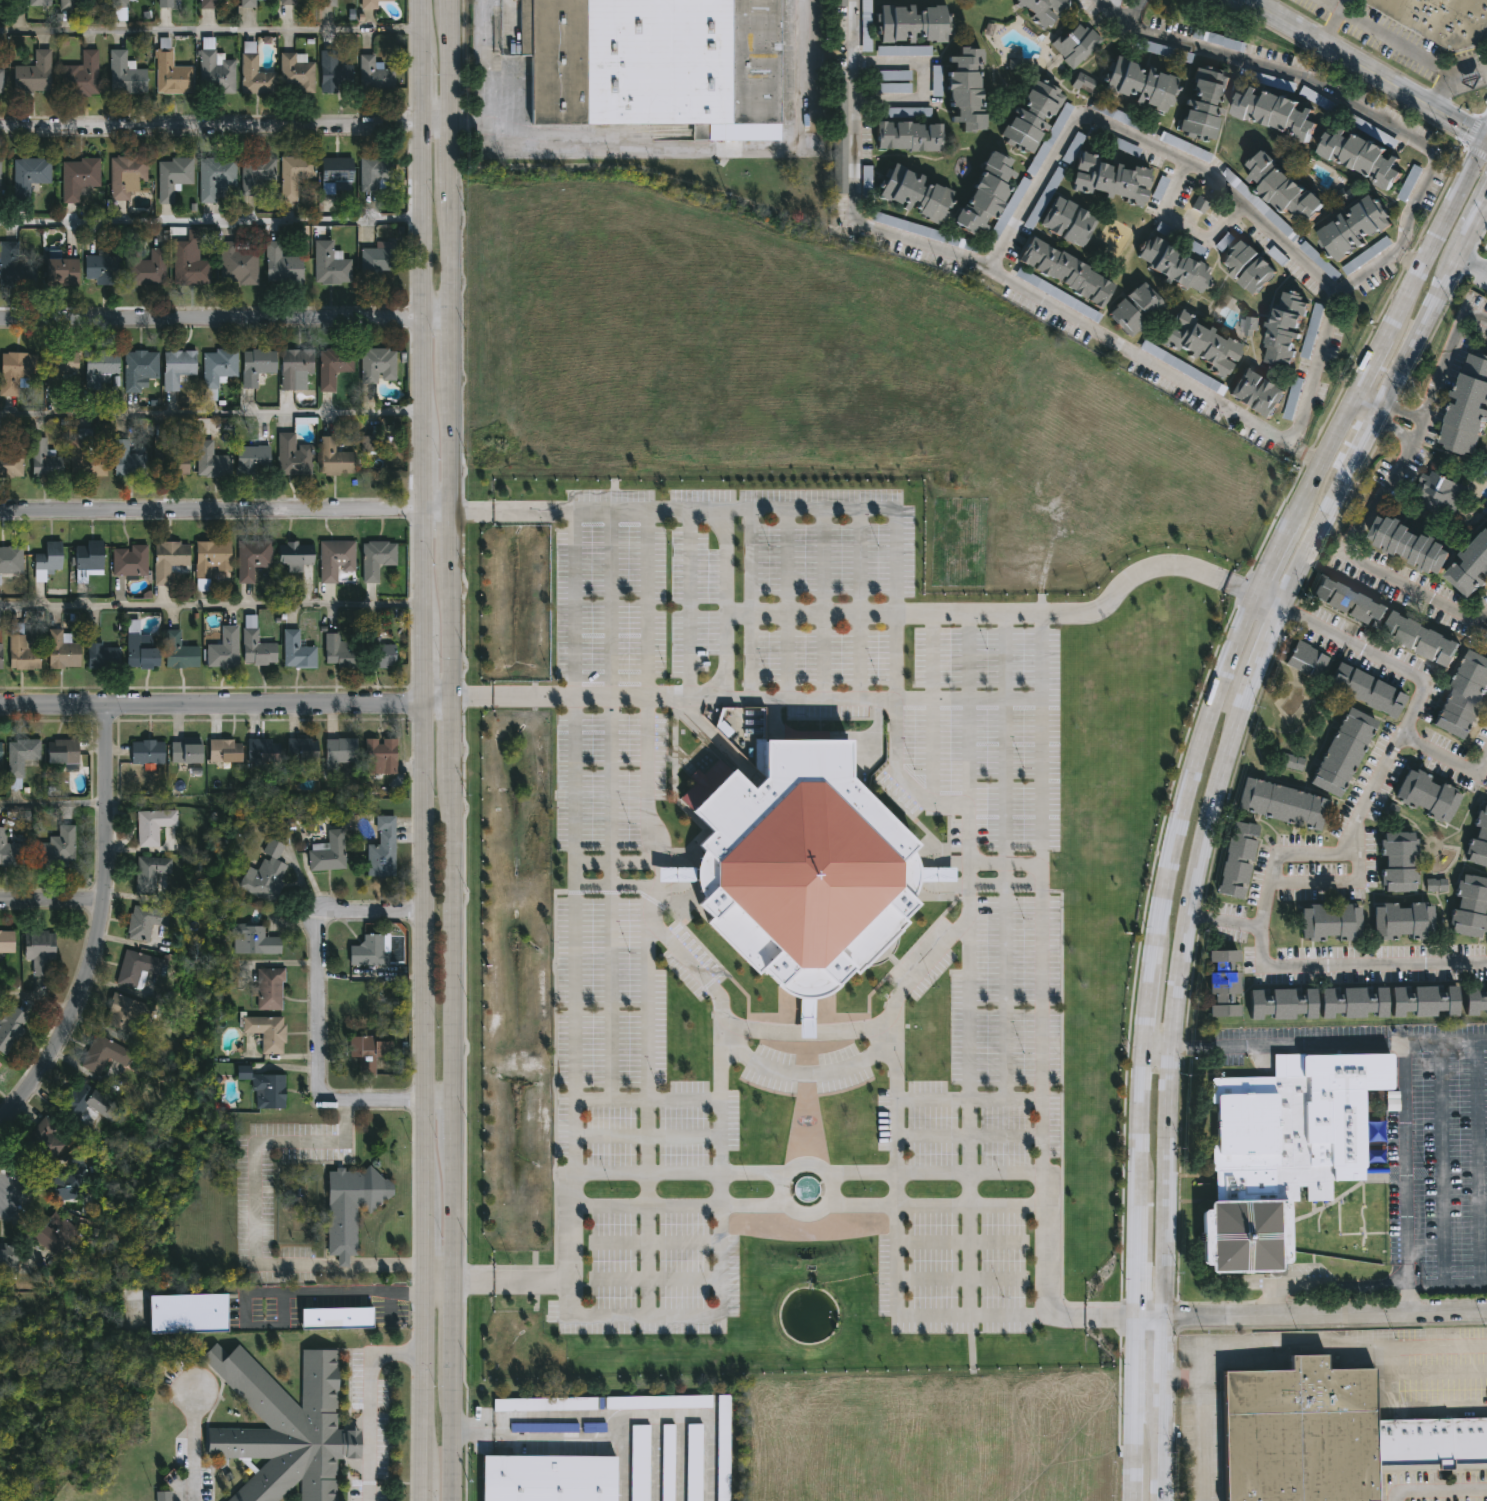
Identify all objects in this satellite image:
building: (866, 1)
building: (287, 2)
building: (38, 3)
building: (119, 3)
building: (164, 3)
building: (247, 3)
building: (326, 3)
building: (840, 3)
building: (67, 4)
building: (206, 4)
building: (369, 4)
building: (1041, 10)
road: (1125, 12)
building: (1441, 19)
road: (1330, 21)
building: (912, 22)
road: (425, 23)
road: (212, 30)
building: (1218, 40)
building: (1075, 45)
building: (866, 47)
road: (1405, 48)
building: (904, 51)
building: (1168, 53)
road: (453, 60)
building: (655, 61)
road: (1366, 70)
building: (170, 71)
building: (333, 71)
building: (253, 73)
building: (295, 73)
building: (32, 74)
building: (124, 74)
building: (215, 75)
building: (373, 75)
building: (80, 76)
building: (894, 76)
building: (0, 80)
road: (923, 80)
building: (1084, 83)
road: (425, 84)
building: (1144, 84)
road: (1319, 87)
road: (1469, 87)
building: (894, 88)
building: (964, 88)
building: (1203, 102)
building: (908, 112)
building: (1275, 112)
building: (1030, 114)
building: (1116, 115)
road: (227, 126)
building: (907, 136)
road: (1468, 137)
traffic signals: (1486, 140)
road: (1145, 141)
building: (840, 145)
building: (1125, 147)
road: (651, 148)
building: (1073, 148)
road: (454, 153)
building: (1361, 156)
building: (0, 169)
building: (373, 172)
building: (255, 174)
building: (334, 174)
building: (293, 175)
building: (28, 176)
building: (125, 176)
building: (214, 176)
building: (78, 178)
building: (172, 178)
building: (1109, 179)
building: (1292, 186)
building: (1406, 190)
building: (914, 194)
building: (983, 194)
building: (1044, 198)
building: (1200, 205)
building: (1261, 205)
road: (1480, 220)
road: (212, 221)
building: (1066, 221)
road: (1181, 225)
building: (1355, 228)
building: (935, 235)
road: (1437, 238)
road: (454, 252)
road: (1406, 260)
building: (376, 261)
building: (237, 263)
building: (329, 264)
building: (14, 265)
building: (1173, 265)
building: (188, 266)
building: (281, 266)
building: (144, 267)
building: (1249, 267)
building: (59, 268)
building: (100, 268)
road: (1473, 269)
building: (1065, 272)
road: (425, 280)
building: (1058, 295)
building: (1135, 310)
road: (226, 317)
road: (1427, 322)
road: (1074, 323)
building: (1249, 326)
building: (1286, 329)
building: (1313, 330)
road: (454, 344)
building: (1199, 344)
road: (1445, 356)
building: (1173, 362)
building: (377, 365)
building: (255, 366)
building: (58, 367)
building: (332, 367)
road: (1371, 367)
building: (98, 368)
building: (138, 369)
building: (176, 369)
building: (295, 369)
building: (217, 371)
building: (14, 372)
building: (1296, 387)
building: (1257, 393)
road: (1366, 403)
building: (1468, 408)
road: (1400, 410)
road: (212, 412)
road: (1392, 429)
road: (1365, 437)
road: (454, 442)
building: (371, 445)
building: (166, 454)
building: (84, 456)
building: (291, 456)
building: (333, 458)
building: (126, 460)
building: (210, 460)
building: (250, 460)
road: (1401, 460)
building: (44, 461)
building: (9, 464)
road: (425, 474)
building: (1441, 494)
road: (227, 509)
road: (725, 511)
building: (1236, 524)
road: (1317, 537)
road: (454, 539)
building: (1412, 546)
building: (293, 556)
building: (251, 557)
building: (334, 559)
building: (376, 559)
building: (10, 560)
building: (87, 560)
building: (45, 561)
building: (169, 561)
building: (209, 561)
building: (128, 562)
road: (425, 570)
building: (1472, 570)
road: (1386, 577)
road: (1244, 590)
building: (1351, 602)
road: (1271, 603)
road: (212, 604)
road: (572, 605)
road: (989, 615)
road: (454, 631)
building: (1422, 640)
building: (136, 646)
building: (255, 646)
road: (1266, 647)
building: (223, 649)
building: (0, 651)
building: (60, 651)
building: (178, 652)
building: (296, 652)
building: (374, 652)
building: (338, 653)
building: (21, 654)
building: (101, 656)
road: (1382, 657)
building: (1309, 661)
road: (426, 666)
building: (1366, 688)
building: (1464, 695)
road: (675, 698)
road: (879, 698)
road: (227, 706)
road: (454, 732)
building: (261, 749)
building: (340, 749)
building: (227, 750)
building: (1342, 750)
building: (0, 751)
building: (62, 752)
building: (184, 752)
building: (299, 752)
building: (146, 753)
building: (380, 755)
building: (21, 758)
building: (1292, 762)
road: (1442, 763)
road: (1004, 789)
road: (609, 792)
building: (1431, 795)
road: (54, 801)
building: (1286, 804)
road: (425, 809)
building: (153, 825)
building: (1481, 844)
building: (57, 847)
building: (10, 849)
building: (381, 849)
building: (328, 852)
building: (1241, 861)
road: (1007, 863)
building: (1403, 863)
building: (803, 867)
building: (264, 871)
building: (146, 873)
road: (1007, 881)
road: (1340, 881)
building: (1435, 885)
road: (53, 904)
parking lot: (610, 906)
building: (1473, 909)
road: (1046, 912)
building: (143, 920)
building: (1408, 922)
road: (1225, 923)
building: (1334, 923)
road: (102, 926)
road: (1260, 928)
road: (1156, 930)
road: (454, 935)
building: (252, 939)
building: (6, 941)
building: (37, 950)
road: (571, 954)
building: (369, 955)
building: (132, 969)
building: (1227, 982)
building: (268, 988)
road: (1002, 991)
road: (609, 993)
road: (1175, 996)
road: (37, 999)
building: (1431, 999)
building: (1478, 999)
building: (1361, 1001)
building: (1288, 1002)
building: (362, 1005)
building: (125, 1012)
road: (318, 1022)
building: (10, 1028)
building: (266, 1032)
road: (896, 1032)
road: (1329, 1044)
road: (1157, 1048)
building: (367, 1051)
building: (103, 1053)
road: (425, 1060)
building: (0, 1065)
road: (808, 1073)
building: (264, 1087)
road: (609, 1100)
road: (647, 1101)
road: (972, 1101)
building: (86, 1102)
road: (967, 1116)
road: (453, 1125)
road: (645, 1137)
road: (720, 1137)
building: (42, 1139)
building: (1288, 1148)
road: (1480, 1161)
road: (1442, 1162)
building: (66, 1182)
road: (3, 1191)
road: (1408, 1201)
building: (350, 1207)
road: (769, 1209)
road: (452, 1214)
road: (254, 1226)
building: (53, 1232)
road: (423, 1238)
building: (8, 1260)
road: (437, 1276)
road: (1326, 1283)
road: (352, 1291)
road: (1409, 1296)
road: (392, 1306)
building: (187, 1313)
road: (1325, 1313)
road: (1093, 1317)
building: (334, 1318)
road: (1148, 1318)
road: (450, 1320)
road: (243, 1324)
road: (1329, 1345)
road: (1160, 1355)
road: (422, 1369)
building: (658, 1402)
building: (545, 1404)
road: (373, 1408)
road: (1202, 1416)
road: (697, 1418)
building: (286, 1428)
road: (448, 1431)
building: (1300, 1432)
road: (534, 1438)
building: (1431, 1438)
road: (194, 1445)
road: (1159, 1447)
building: (723, 1448)
building: (668, 1462)
building: (694, 1462)
building: (640, 1463)
road: (1144, 1465)
road: (622, 1469)
building: (549, 1478)
road: (422, 1484)
road: (1439, 1490)
building: (163, 1496)

